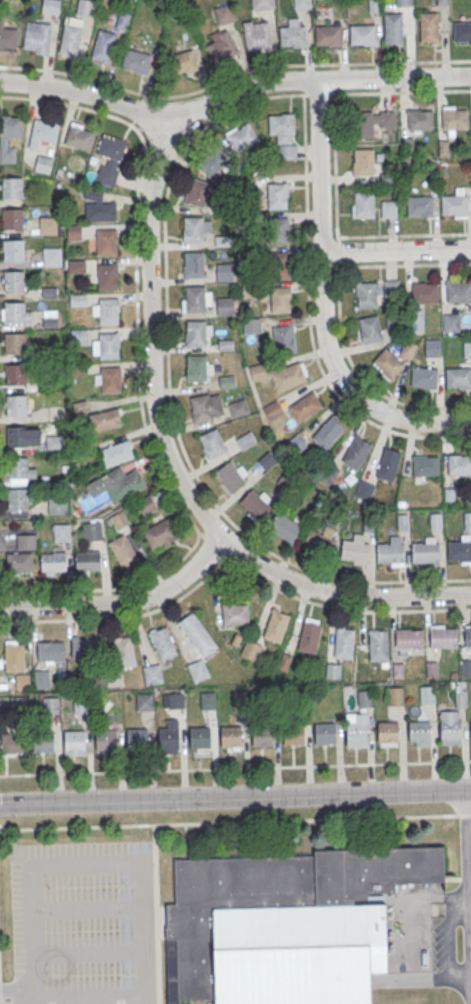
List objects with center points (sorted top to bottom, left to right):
building: (403, 2)
building: (301, 3)
building: (262, 4)
building: (50, 6)
building: (84, 7)
building: (223, 13)
building: (122, 20)
building: (393, 27)
building: (428, 27)
building: (462, 31)
building: (293, 34)
building: (362, 34)
building: (327, 35)
building: (7, 36)
building: (70, 36)
building: (257, 36)
building: (36, 37)
building: (102, 46)
building: (221, 46)
building: (135, 61)
building: (185, 61)
road: (232, 77)
road: (401, 91)
road: (318, 93)
road: (226, 94)
road: (79, 105)
building: (454, 117)
building: (420, 119)
building: (373, 121)
building: (43, 132)
building: (283, 133)
building: (9, 136)
building: (78, 136)
building: (242, 136)
building: (443, 147)
building: (110, 158)
building: (214, 160)
building: (362, 161)
building: (43, 163)
road: (318, 166)
building: (11, 189)
building: (199, 192)
building: (277, 195)
building: (363, 204)
building: (98, 206)
building: (454, 206)
building: (419, 207)
building: (388, 208)
building: (11, 220)
building: (47, 224)
building: (280, 229)
building: (73, 231)
building: (192, 231)
road: (336, 231)
building: (105, 243)
building: (12, 251)
building: (51, 256)
building: (281, 263)
building: (76, 266)
building: (193, 266)
building: (224, 271)
building: (106, 278)
building: (13, 282)
building: (458, 291)
building: (374, 292)
building: (424, 292)
building: (280, 298)
building: (77, 299)
building: (194, 301)
building: (224, 306)
building: (107, 312)
building: (14, 313)
road: (322, 315)
building: (50, 316)
road: (338, 316)
road: (309, 320)
building: (392, 320)
building: (416, 320)
building: (451, 323)
building: (251, 324)
building: (369, 328)
building: (195, 335)
building: (79, 336)
building: (283, 337)
road: (150, 338)
building: (14, 344)
building: (108, 347)
building: (432, 348)
building: (408, 349)
building: (467, 349)
building: (387, 363)
building: (195, 370)
building: (15, 374)
building: (281, 374)
building: (423, 377)
building: (458, 377)
building: (110, 381)
building: (227, 381)
road: (171, 400)
building: (304, 405)
building: (16, 406)
building: (205, 406)
building: (238, 407)
building: (272, 409)
building: (105, 419)
building: (327, 432)
building: (16, 436)
building: (245, 439)
building: (54, 441)
building: (212, 444)
building: (356, 451)
building: (117, 452)
road: (152, 454)
building: (267, 460)
building: (387, 464)
building: (459, 464)
building: (425, 465)
building: (17, 467)
building: (231, 474)
building: (116, 484)
building: (363, 490)
building: (449, 495)
building: (17, 499)
building: (256, 502)
building: (146, 504)
building: (56, 505)
building: (435, 520)
building: (467, 520)
building: (402, 521)
building: (284, 526)
building: (92, 530)
building: (61, 532)
building: (160, 533)
road: (201, 533)
building: (25, 541)
road: (249, 541)
building: (319, 541)
road: (213, 546)
building: (354, 549)
building: (123, 550)
road: (242, 550)
building: (426, 550)
building: (459, 550)
building: (390, 551)
building: (87, 560)
building: (18, 561)
building: (53, 563)
road: (338, 595)
road: (122, 603)
road: (341, 606)
building: (235, 613)
road: (129, 616)
building: (276, 625)
building: (197, 634)
building: (309, 634)
building: (443, 635)
building: (467, 635)
building: (408, 638)
building: (378, 641)
building: (162, 642)
building: (343, 642)
building: (81, 646)
building: (251, 649)
building: (50, 650)
building: (124, 651)
building: (13, 655)
building: (466, 667)
building: (198, 670)
building: (332, 670)
building: (152, 673)
building: (41, 678)
building: (21, 681)
building: (426, 694)
building: (460, 694)
building: (394, 695)
building: (363, 697)
building: (207, 699)
building: (172, 700)
building: (144, 701)
building: (81, 703)
building: (50, 704)
building: (450, 730)
building: (420, 731)
building: (357, 732)
building: (388, 732)
building: (324, 733)
building: (293, 734)
building: (262, 735)
building: (230, 736)
building: (200, 737)
building: (137, 738)
building: (168, 738)
building: (105, 740)
building: (43, 741)
building: (74, 741)
building: (14, 743)
road: (235, 767)
road: (235, 794)
road: (235, 821)
road: (468, 861)
road: (143, 876)
road: (88, 906)
road: (155, 914)
park: (217, 914)
parking lot: (84, 922)
building: (285, 924)
road: (34, 935)
road: (451, 943)
road: (90, 952)
road: (19, 987)
road: (91, 994)
road: (32, 1000)

